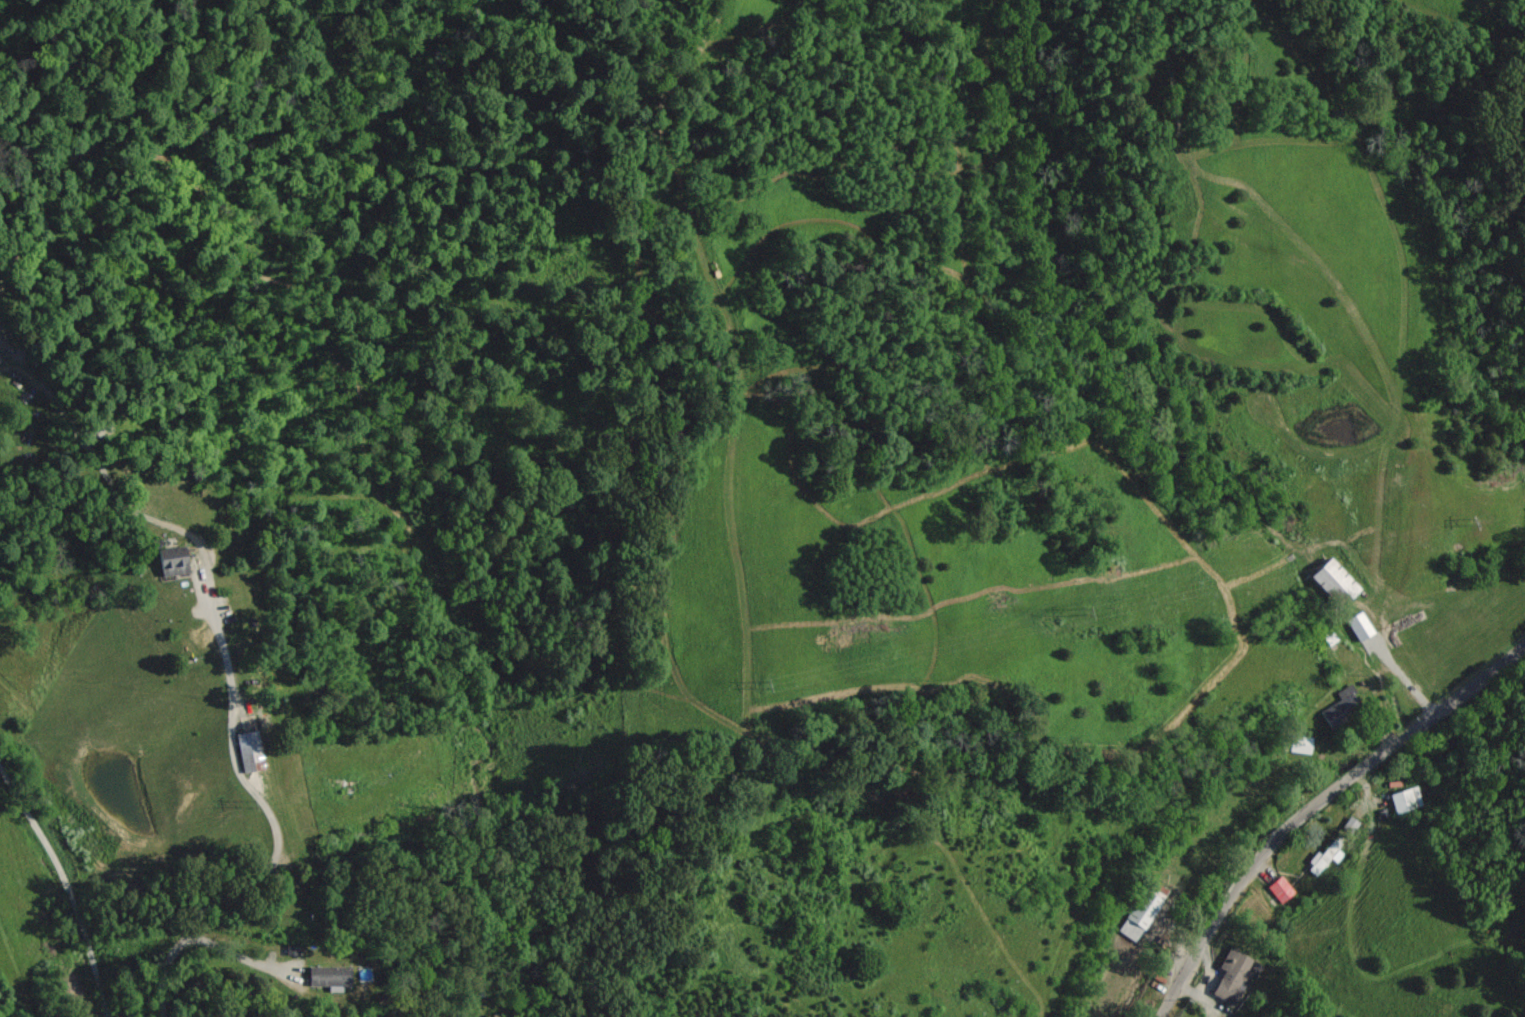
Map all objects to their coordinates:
building: (173, 564)
building: (1335, 581)
building: (1360, 626)
building: (1344, 705)
building: (248, 751)
building: (1406, 799)
road: (1310, 801)
road: (274, 832)
building: (1326, 857)
road: (67, 884)
building: (1281, 889)
building: (1233, 975)
building: (328, 977)

